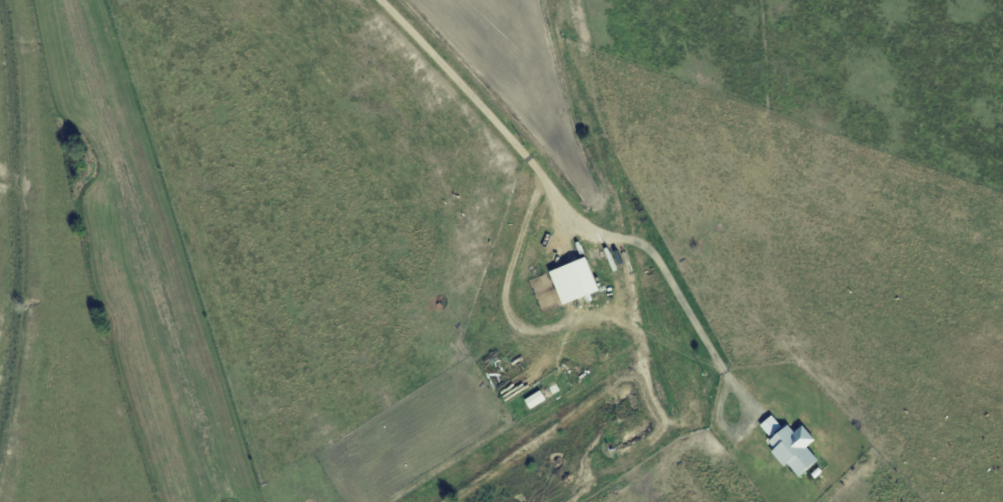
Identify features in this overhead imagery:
road: (469, 98)
airport runway: (142, 251)
building: (575, 281)
road: (695, 325)
building: (537, 399)
building: (772, 425)
building: (795, 448)

